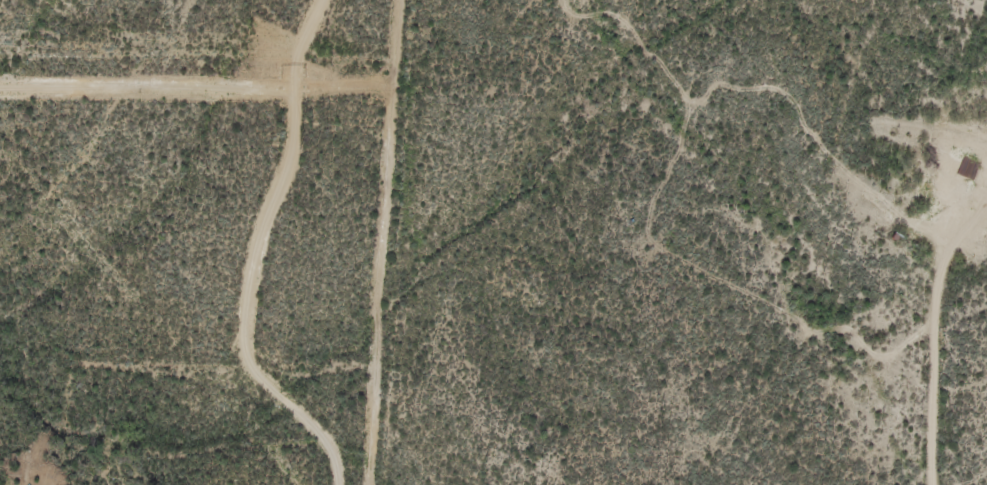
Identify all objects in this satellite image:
road: (866, 231)
road: (272, 255)

